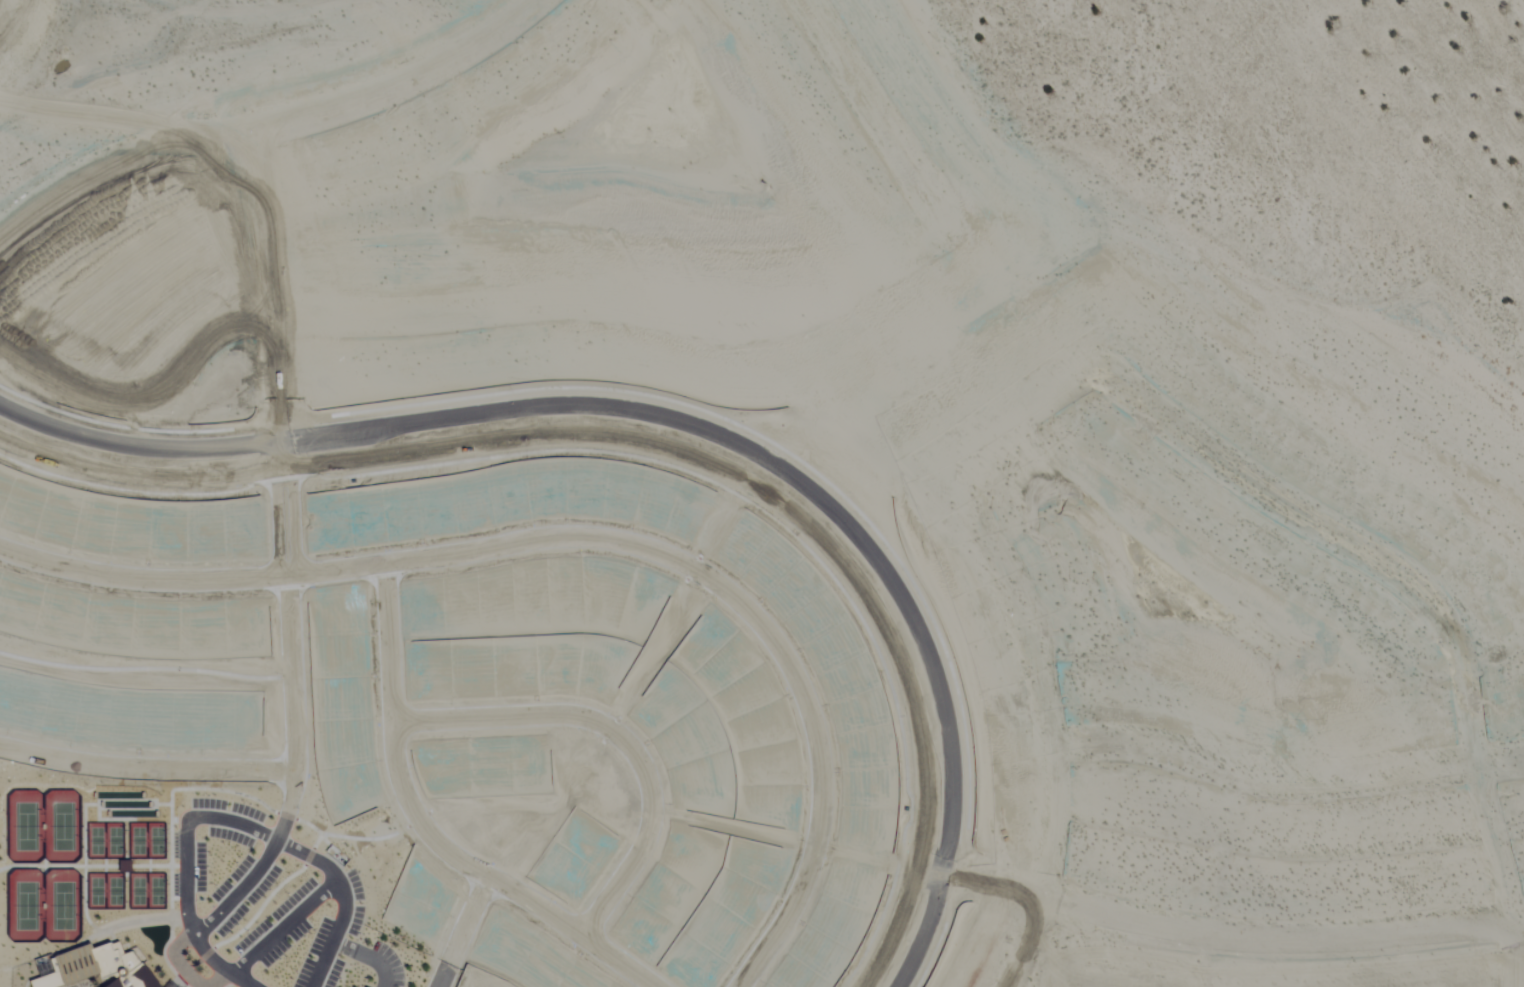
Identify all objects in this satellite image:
road: (679, 427)
road: (656, 459)
road: (584, 540)
road: (291, 611)
road: (615, 740)
road: (147, 765)
road: (289, 807)
road: (433, 836)
road: (184, 868)
road: (336, 880)
road: (238, 894)
road: (282, 926)
road: (464, 933)
road: (367, 958)
road: (173, 961)
road: (323, 965)
road: (217, 981)

